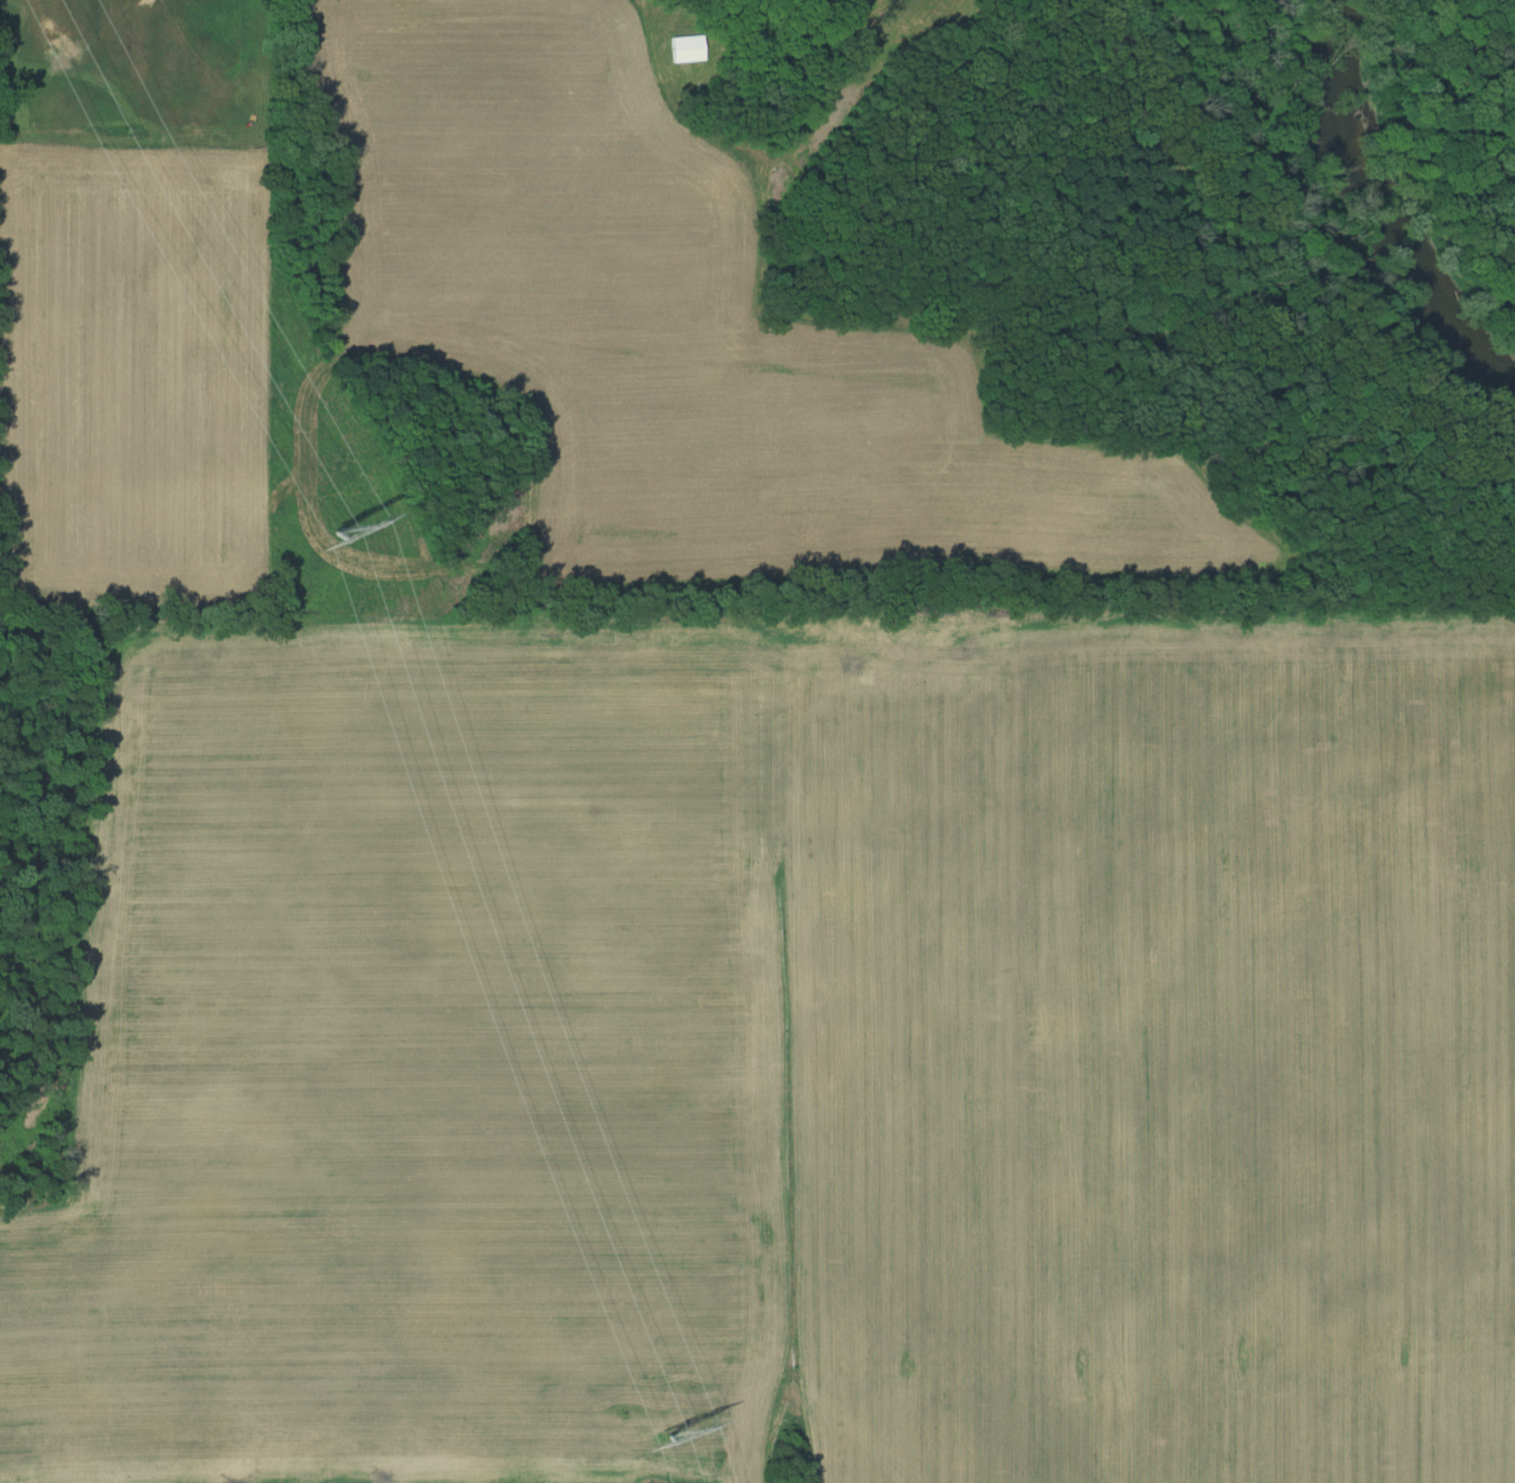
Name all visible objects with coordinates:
road: (638, 2)
building: (688, 48)
river: (1383, 221)
power tower: (324, 533)
power tower: (664, 1434)

